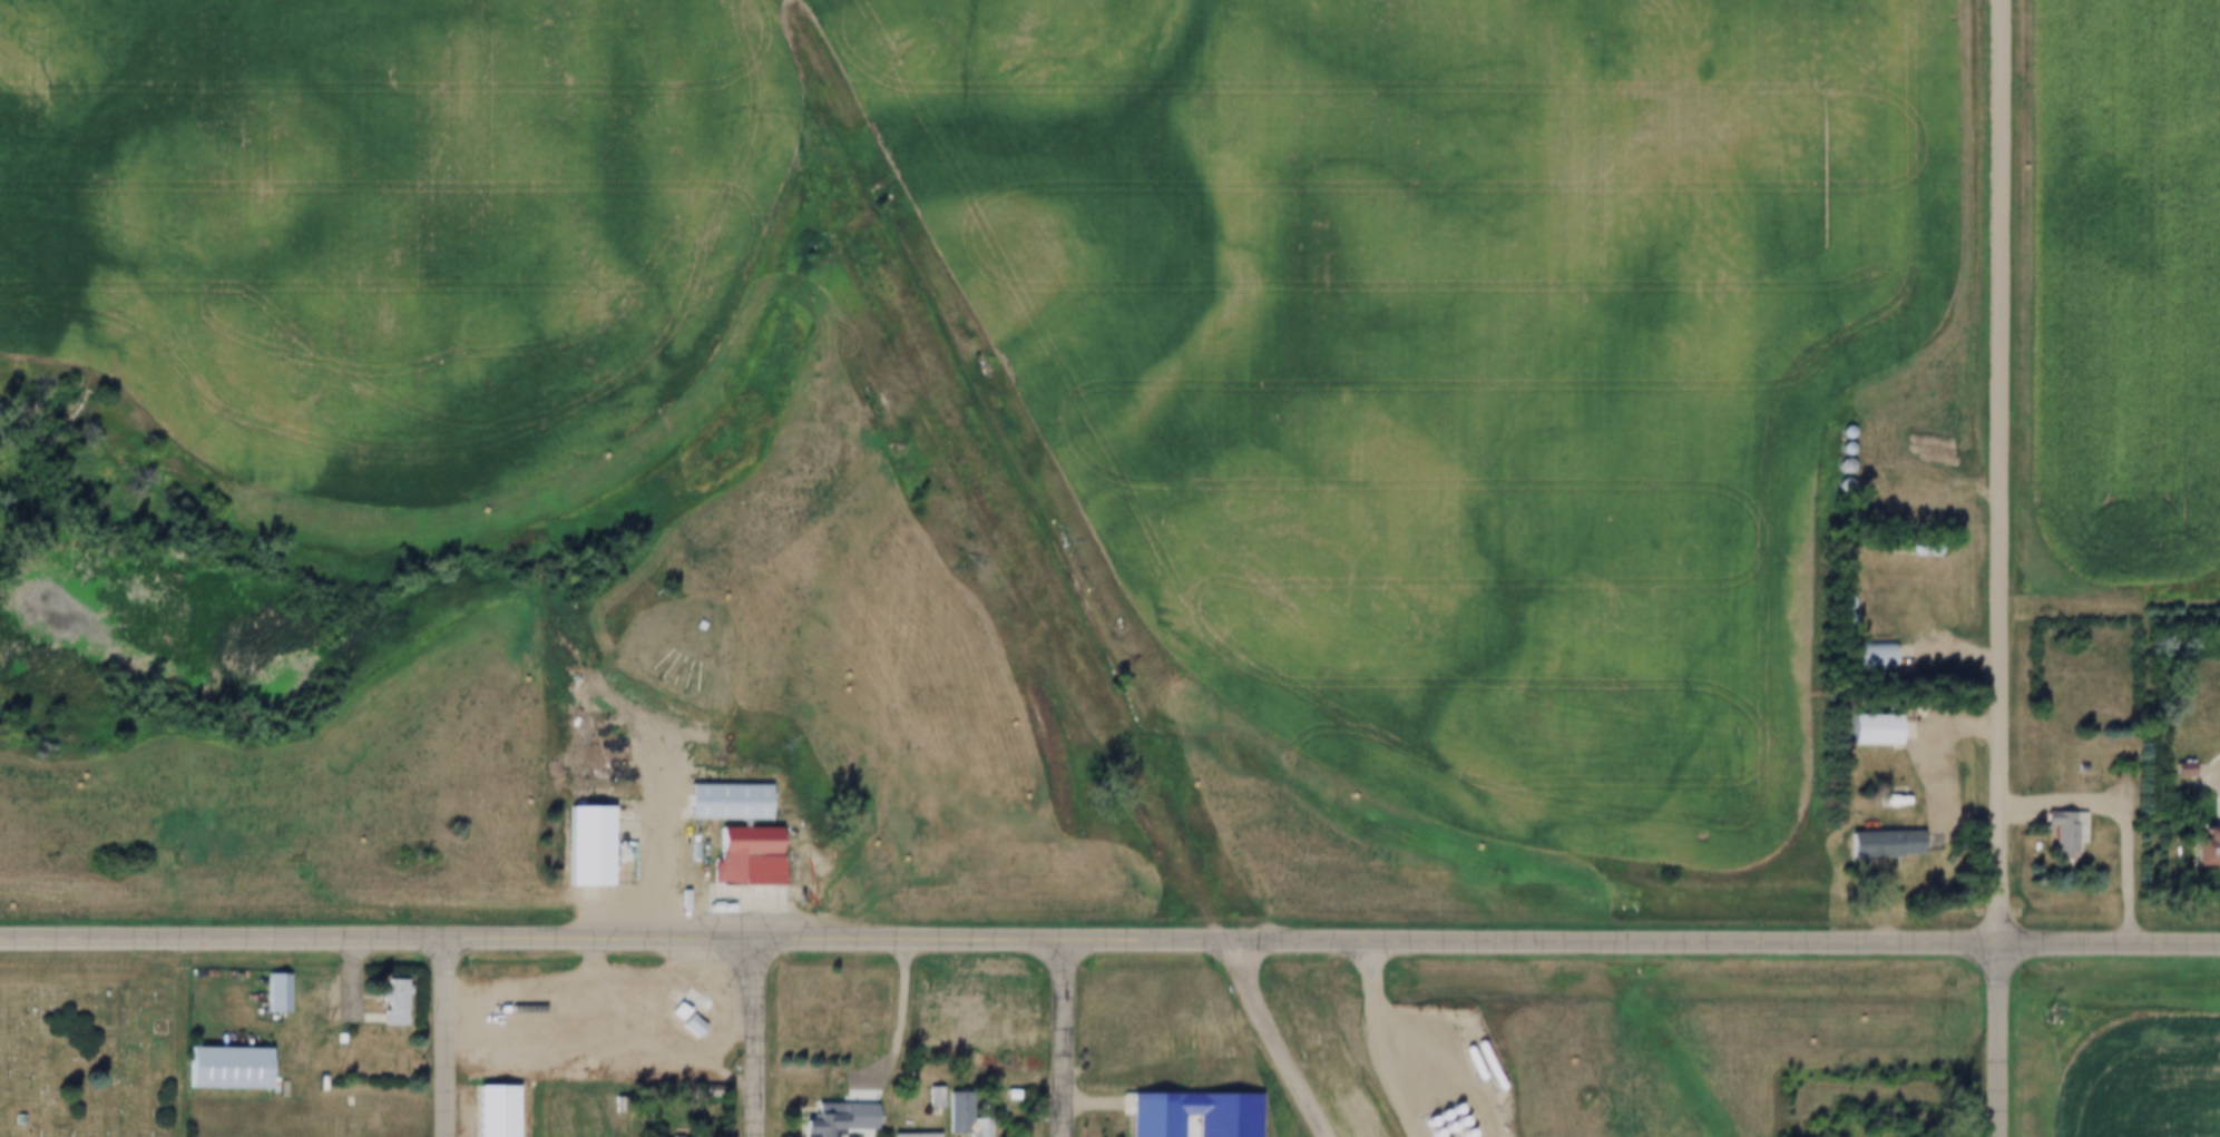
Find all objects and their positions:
building: (1837, 433)
silo: (1837, 433)
building: (1836, 449)
silo: (1836, 449)
building: (1835, 467)
silo: (1835, 467)
road: (2005, 469)
building: (1833, 484)
silo: (1833, 484)
building: (1905, 549)
silo: (1905, 549)
building: (1921, 549)
silo: (1921, 549)
park: (733, 560)
building: (1836, 602)
silo: (1836, 602)
building: (1835, 620)
silo: (1835, 620)
building: (690, 627)
building: (1862, 654)
building: (1860, 732)
building: (2180, 767)
building: (2173, 771)
road: (2208, 772)
building: (1893, 795)
building: (714, 805)
road: (653, 824)
building: (2055, 833)
building: (2030, 841)
building: (1871, 845)
building: (574, 850)
building: (2201, 851)
building: (735, 859)
road: (62, 932)
road: (1173, 934)
building: (267, 994)
building: (640, 998)
silo: (640, 998)
building: (654, 998)
silo: (654, 998)
building: (586, 999)
silo: (586, 999)
building: (599, 999)
silo: (599, 999)
building: (614, 999)
silo: (614, 999)
building: (627, 999)
silo: (627, 999)
building: (557, 1000)
silo: (557, 1000)
building: (571, 1000)
silo: (571, 1000)
building: (380, 1006)
building: (677, 1021)
road: (449, 1035)
road: (756, 1035)
road: (899, 1035)
road: (1070, 1035)
road: (1264, 1038)
road: (2005, 1038)
building: (330, 1039)
road: (1377, 1039)
park: (89, 1053)
building: (855, 1058)
road: (1448, 1060)
storage tank: (1464, 1065)
building: (584, 1066)
silo: (584, 1066)
building: (638, 1066)
silo: (638, 1066)
building: (654, 1066)
silo: (654, 1066)
building: (546, 1068)
silo: (546, 1068)
building: (560, 1068)
silo: (560, 1068)
building: (596, 1068)
silo: (596, 1068)
building: (222, 1070)
storage tank: (1428, 1079)
storage tank: (1432, 1087)
storage tank: (1422, 1091)
storage tank: (1414, 1096)
building: (925, 1099)
building: (933, 1099)
storage tank: (1405, 1100)
building: (1421, 1104)
storage tank: (1445, 1109)
building: (491, 1111)
storage tank: (1432, 1115)
building: (1144, 1116)
building: (11, 1120)
building: (813, 1121)
storage tank: (1420, 1121)
storage tank: (1451, 1121)
building: (980, 1127)
storage tank: (1438, 1127)
building: (968, 1128)
storage tank: (1426, 1133)
storage tank: (1457, 1134)
building: (903, 1136)

